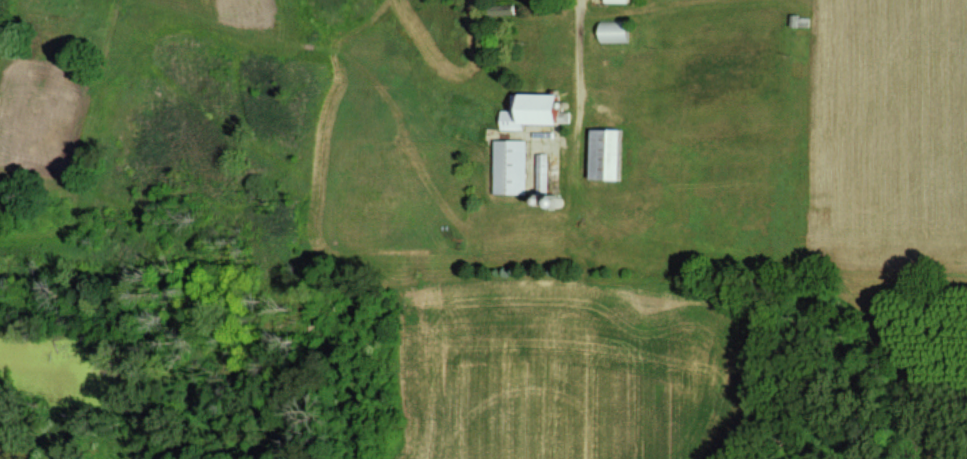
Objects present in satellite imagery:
building: (621, 0)
building: (616, 30)
building: (535, 110)
building: (607, 153)
building: (513, 166)
building: (544, 172)

